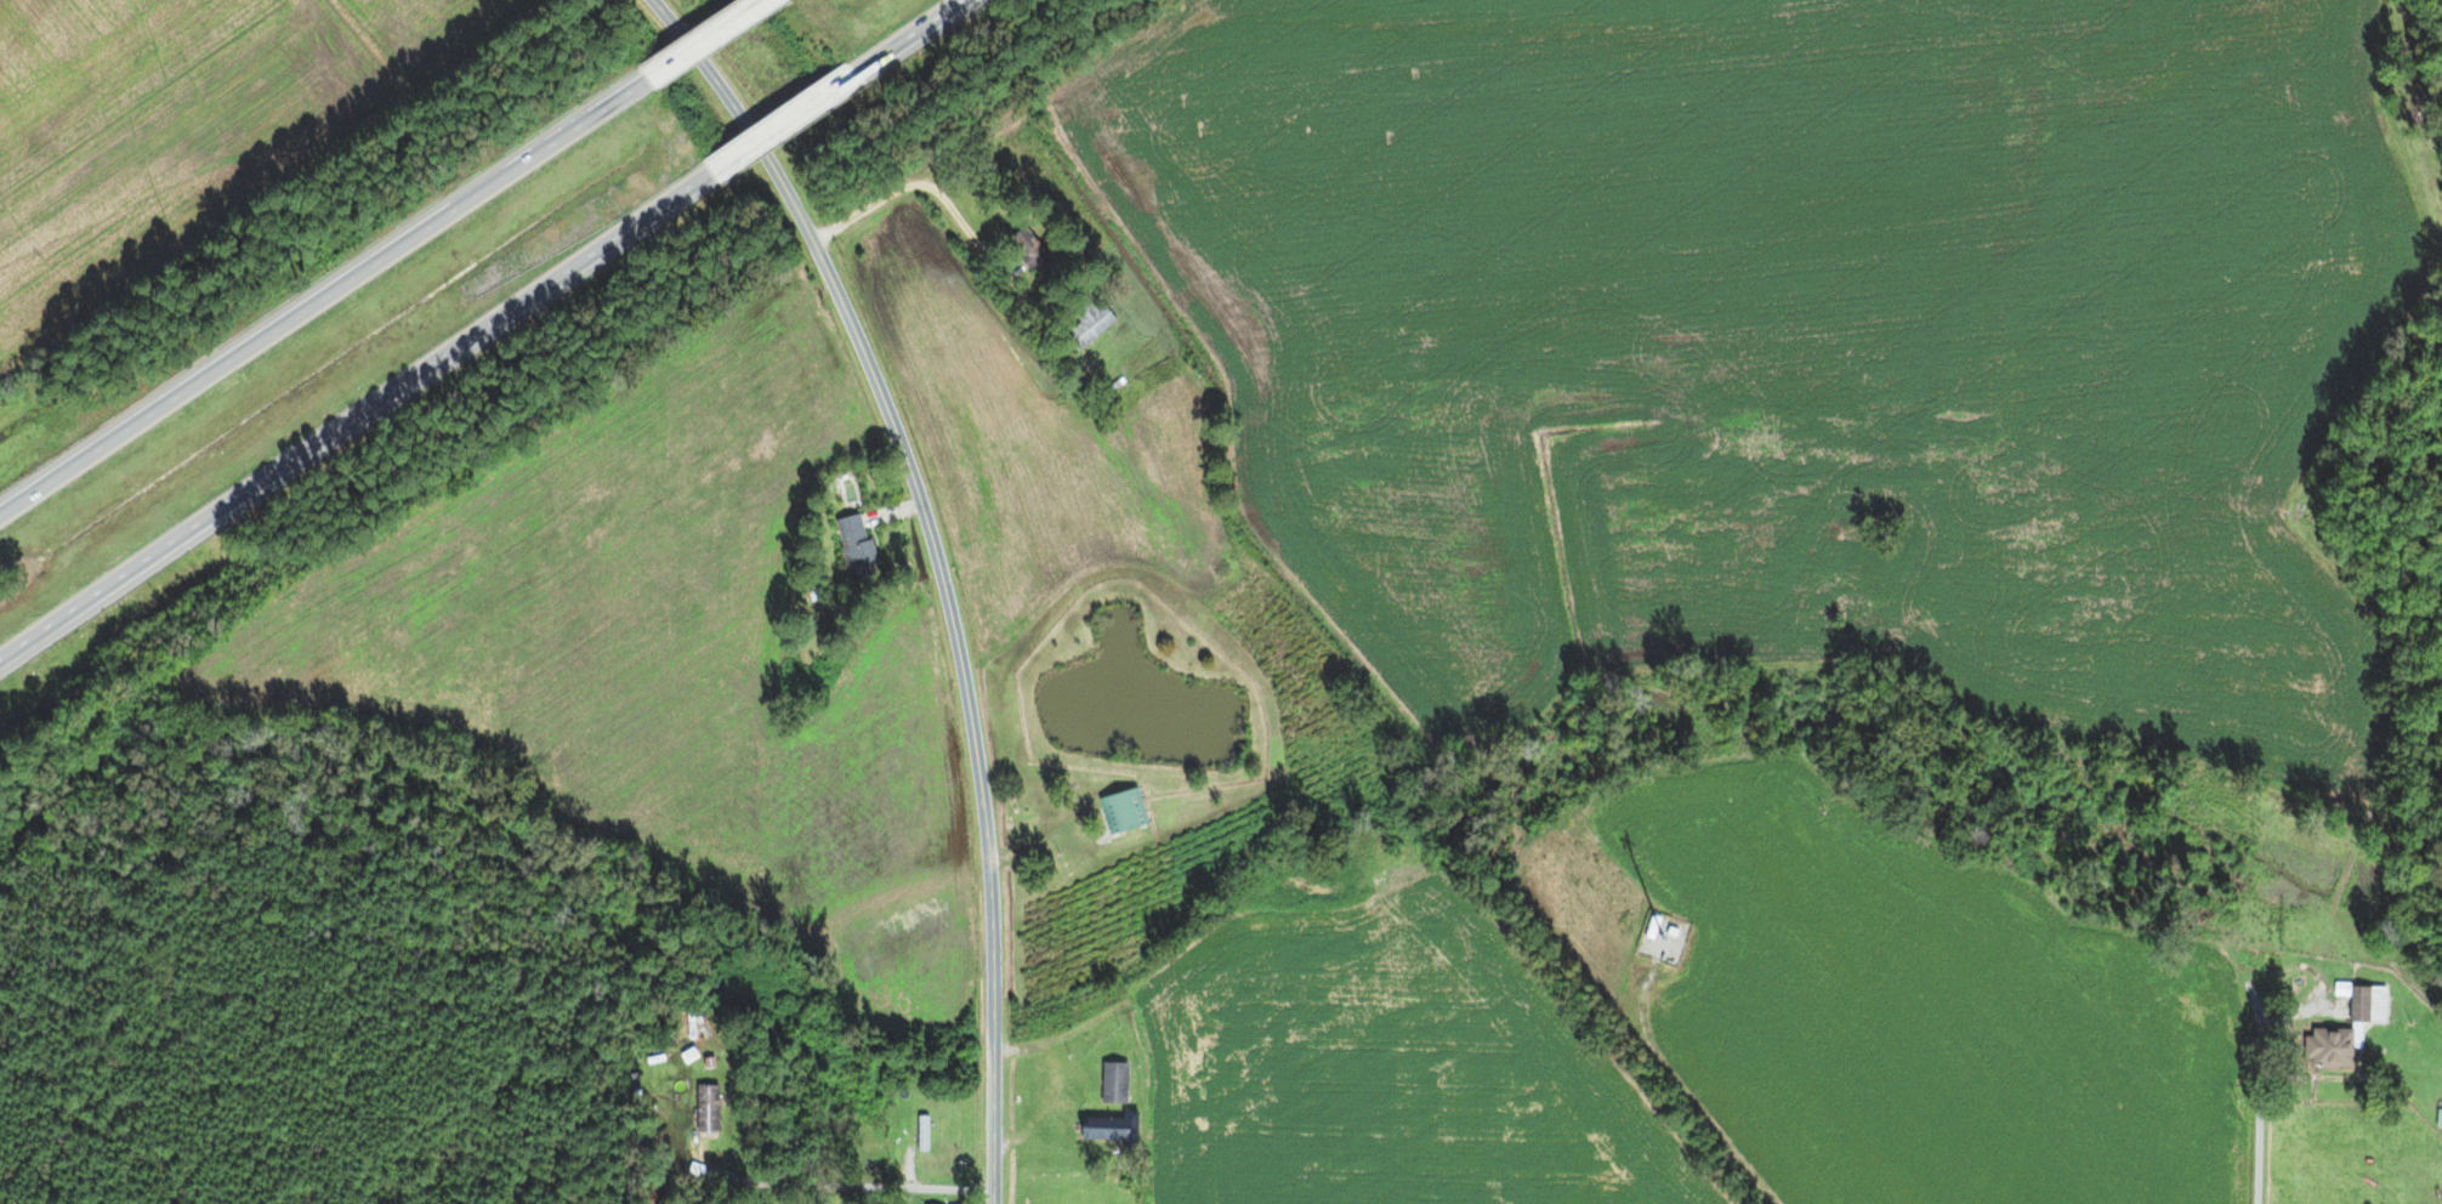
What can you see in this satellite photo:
road: (657, 4)
road: (708, 39)
road: (912, 40)
road: (785, 126)
road: (899, 191)
building: (1027, 250)
road: (324, 293)
building: (1087, 324)
road: (358, 416)
road: (897, 437)
road: (2298, 523)
building: (852, 545)
building: (1119, 810)
building: (1654, 927)
crop: (1895, 996)
building: (2366, 1003)
building: (2333, 1047)
building: (669, 1057)
building: (710, 1062)
road: (993, 1062)
crop: (1393, 1062)
road: (2329, 1077)
building: (1114, 1083)
road: (1687, 1092)
road: (2259, 1094)
building: (708, 1109)
building: (2440, 1119)
building: (1114, 1130)
building: (924, 1134)
road: (1024, 1137)
road: (702, 1153)
road: (907, 1168)
road: (847, 1185)
road: (793, 1194)

